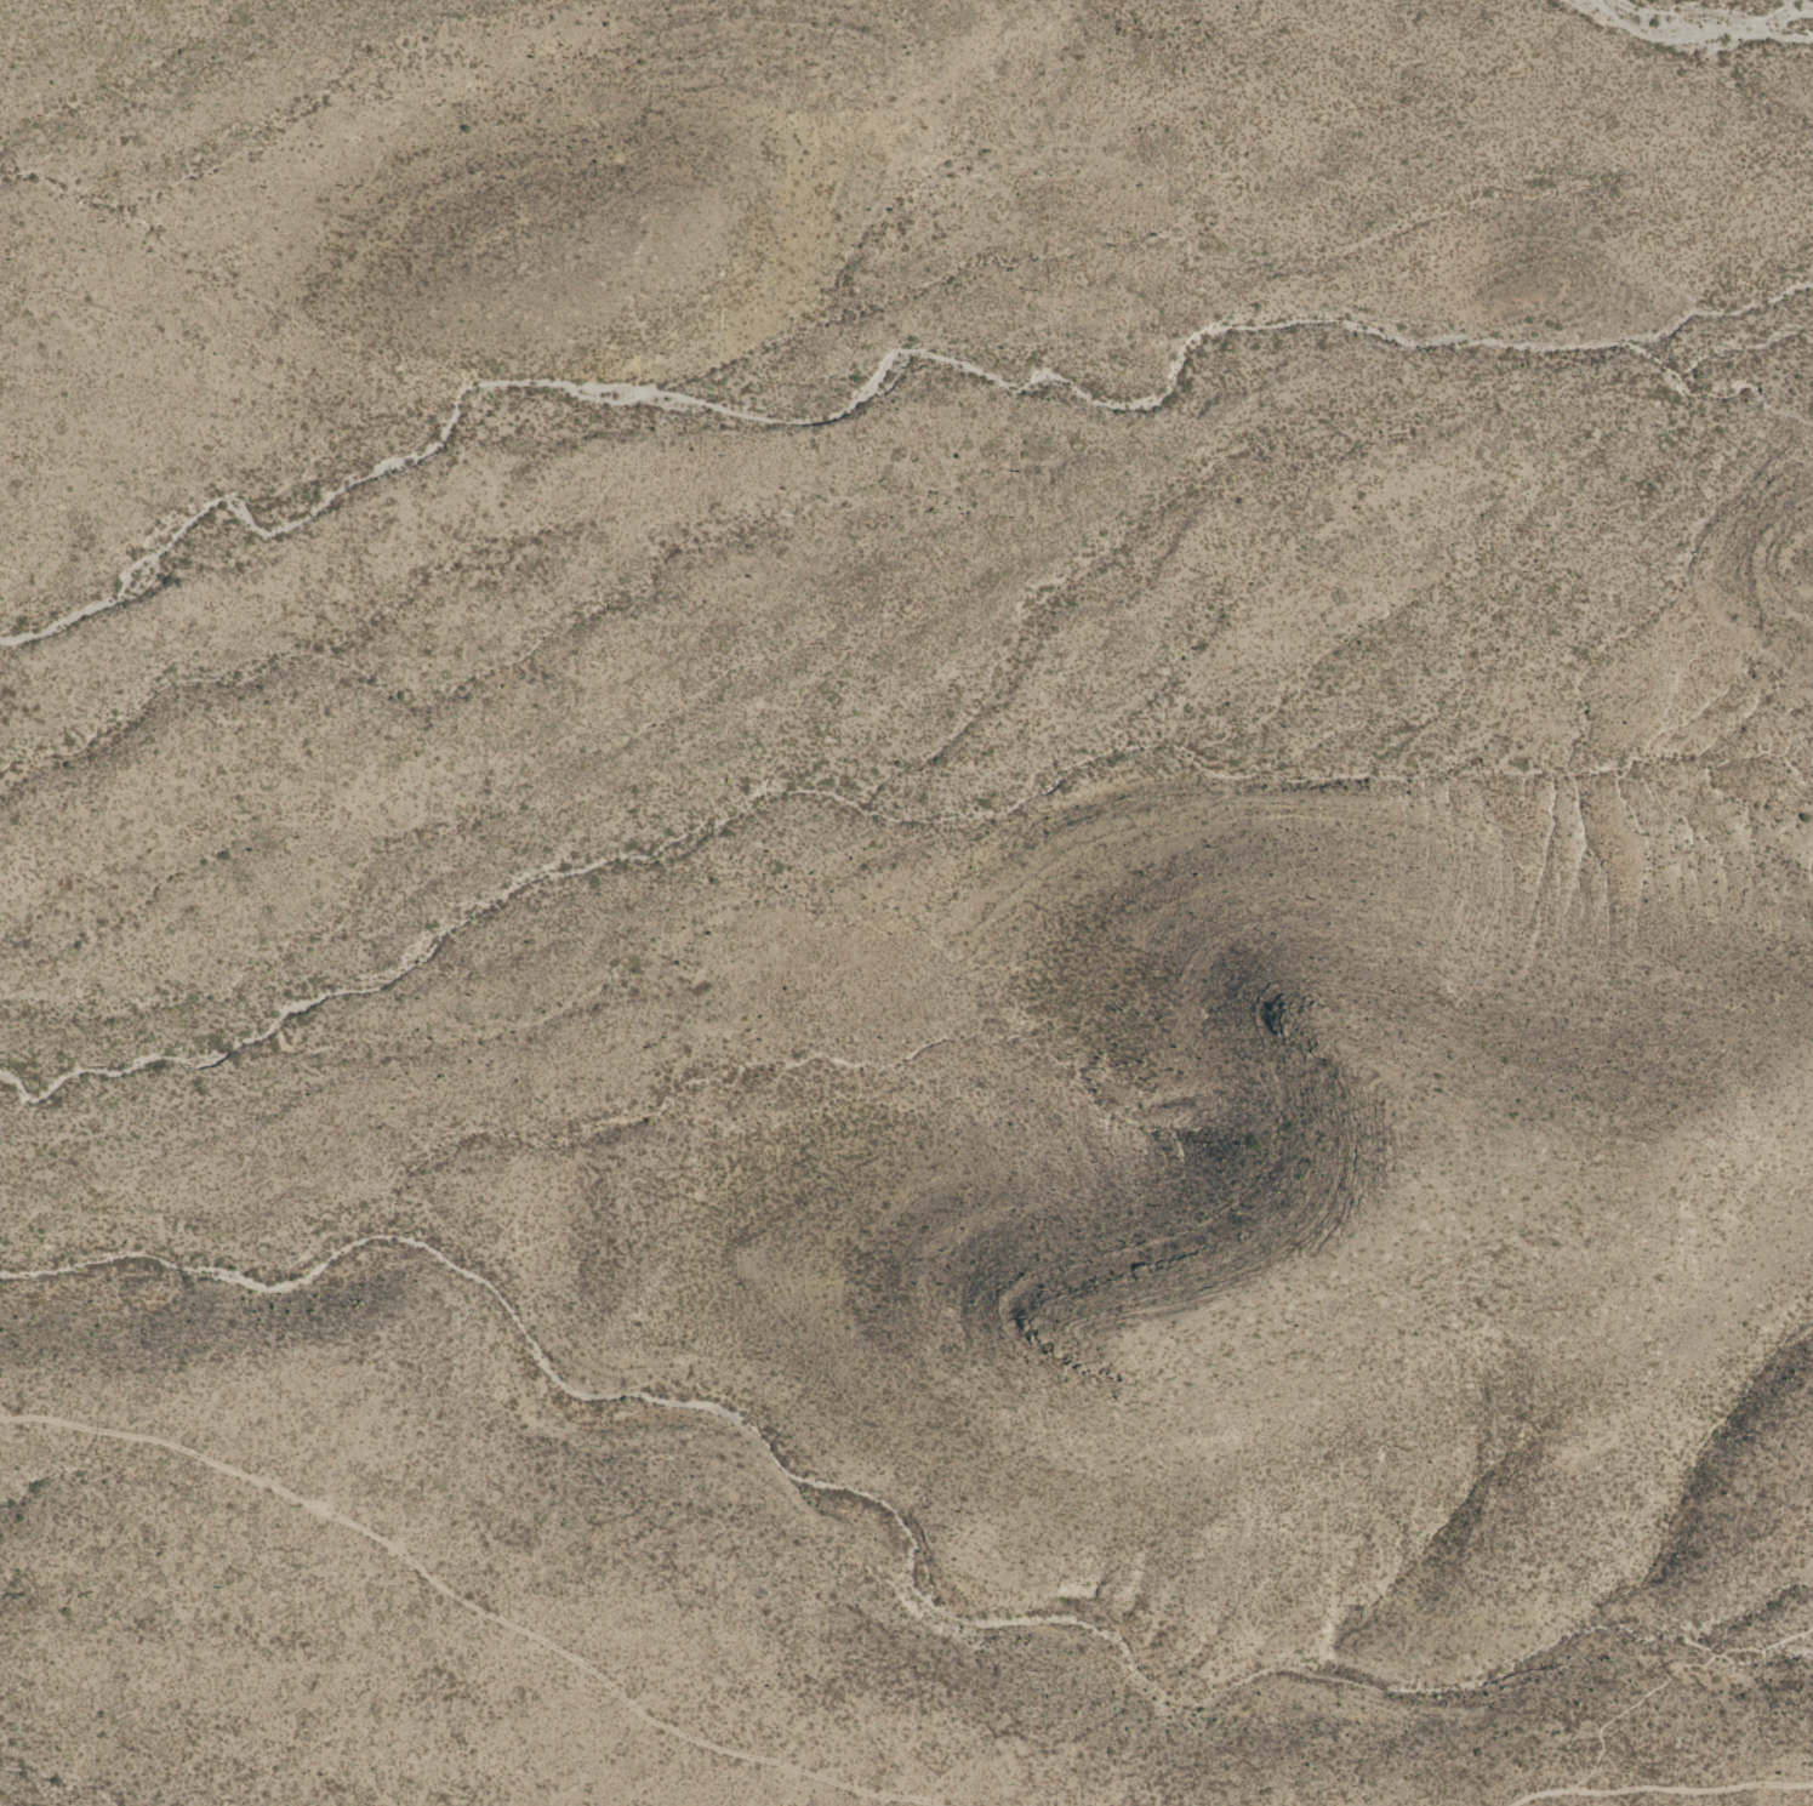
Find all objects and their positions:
road: (1648, 1697)
road: (1688, 1791)

